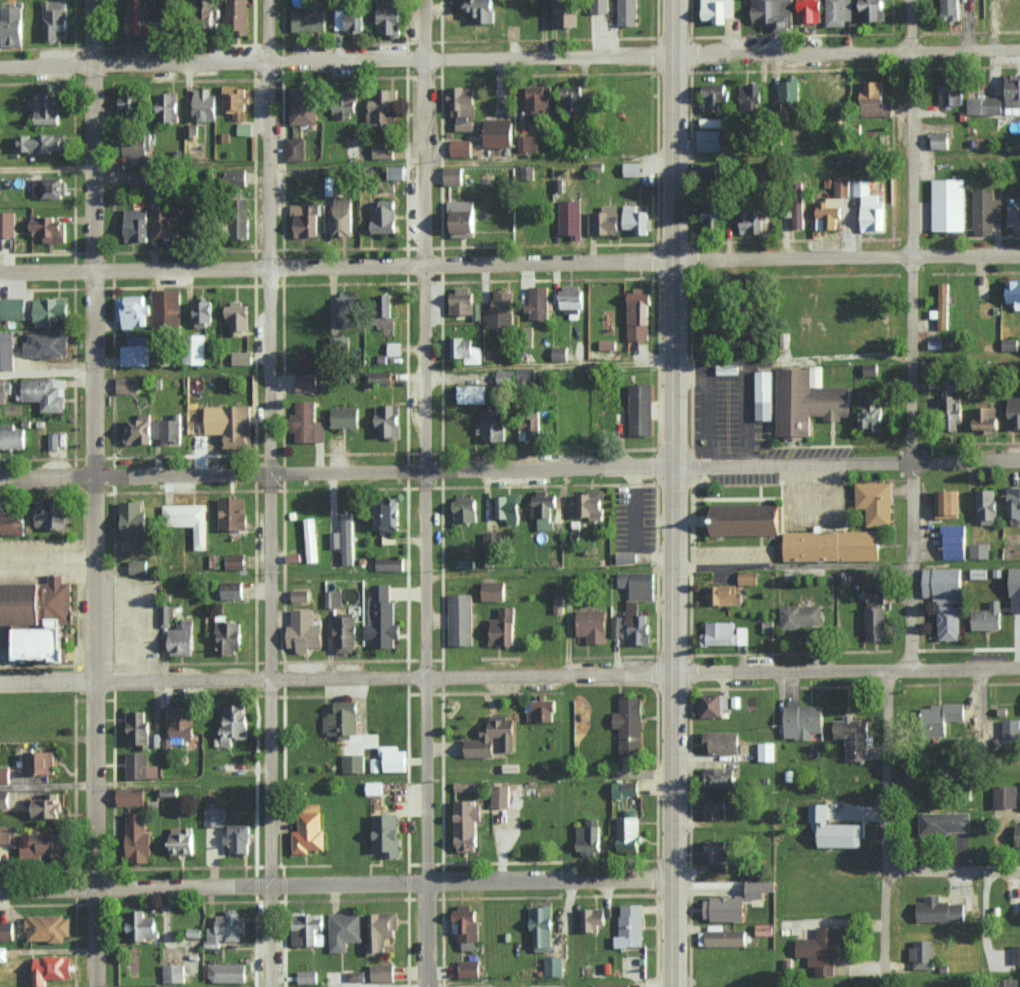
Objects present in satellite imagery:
building: (873, 9)
building: (481, 10)
building: (718, 10)
building: (808, 10)
building: (952, 10)
building: (567, 12)
building: (628, 12)
building: (772, 12)
building: (838, 12)
building: (237, 16)
building: (136, 17)
building: (389, 17)
building: (55, 19)
building: (349, 19)
building: (309, 21)
building: (127, 22)
building: (11, 26)
road: (671, 28)
road: (510, 57)
building: (789, 90)
building: (1012, 93)
building: (951, 94)
building: (714, 95)
building: (750, 95)
building: (572, 96)
building: (538, 98)
building: (873, 99)
building: (234, 100)
building: (131, 101)
building: (204, 104)
building: (303, 104)
building: (345, 104)
building: (984, 105)
building: (463, 106)
building: (45, 107)
building: (168, 107)
building: (383, 107)
building: (244, 129)
building: (499, 132)
building: (709, 140)
building: (939, 140)
building: (40, 142)
building: (527, 142)
building: (461, 147)
building: (295, 149)
building: (137, 150)
building: (383, 150)
road: (548, 160)
building: (632, 168)
building: (396, 172)
building: (453, 175)
building: (235, 176)
building: (137, 177)
building: (47, 187)
building: (841, 187)
building: (948, 204)
building: (869, 207)
building: (985, 211)
building: (829, 213)
building: (341, 215)
building: (384, 216)
building: (713, 216)
building: (1013, 216)
building: (463, 217)
building: (570, 218)
building: (634, 218)
building: (798, 218)
building: (305, 219)
building: (604, 220)
building: (166, 221)
building: (752, 221)
building: (7, 223)
building: (241, 223)
building: (136, 224)
building: (48, 228)
road: (510, 261)
building: (1013, 293)
building: (571, 296)
building: (461, 300)
building: (385, 301)
building: (538, 302)
building: (942, 306)
building: (167, 307)
building: (13, 308)
building: (347, 308)
building: (501, 309)
building: (50, 310)
building: (132, 310)
building: (203, 312)
building: (638, 315)
building: (238, 316)
building: (1009, 343)
building: (47, 344)
building: (394, 348)
building: (196, 349)
building: (7, 350)
building: (466, 350)
building: (136, 351)
building: (559, 353)
building: (241, 357)
building: (305, 357)
road: (667, 365)
building: (729, 370)
building: (526, 374)
building: (506, 376)
building: (380, 377)
road: (725, 377)
building: (307, 381)
building: (127, 384)
building: (43, 393)
building: (472, 394)
building: (766, 396)
building: (807, 403)
building: (951, 408)
building: (641, 409)
building: (1013, 412)
building: (873, 413)
road: (745, 415)
road: (706, 416)
building: (345, 417)
building: (985, 417)
building: (388, 420)
building: (307, 422)
building: (230, 424)
building: (493, 424)
parking lot: (743, 426)
building: (168, 428)
building: (139, 429)
building: (529, 429)
building: (12, 436)
building: (53, 440)
road: (510, 472)
road: (95, 493)
road: (271, 493)
road: (425, 493)
parking lot: (801, 495)
road: (909, 497)
building: (878, 502)
building: (947, 503)
building: (591, 504)
building: (986, 505)
building: (1013, 505)
building: (507, 507)
building: (544, 508)
building: (465, 509)
building: (233, 513)
building: (51, 514)
building: (388, 515)
road: (635, 516)
building: (132, 519)
parking lot: (635, 519)
building: (188, 520)
road: (676, 521)
building: (746, 521)
building: (12, 523)
building: (347, 538)
building: (310, 539)
building: (954, 542)
building: (492, 544)
building: (832, 546)
building: (979, 550)
parking lot: (734, 555)
parking lot: (38, 557)
building: (626, 557)
building: (235, 561)
building: (389, 563)
road: (730, 565)
road: (847, 565)
building: (138, 566)
building: (748, 578)
building: (1015, 589)
building: (232, 590)
building: (493, 590)
building: (300, 595)
building: (724, 595)
building: (876, 597)
building: (333, 598)
building: (945, 599)
building: (558, 603)
building: (631, 607)
building: (166, 615)
building: (801, 615)
building: (987, 617)
building: (39, 618)
building: (383, 618)
building: (460, 619)
parking lot: (132, 623)
building: (876, 623)
building: (593, 625)
building: (616, 626)
building: (503, 627)
building: (304, 631)
building: (345, 633)
building: (724, 634)
building: (228, 636)
building: (182, 638)
road: (509, 675)
building: (712, 705)
building: (541, 709)
building: (942, 717)
building: (343, 719)
building: (803, 720)
building: (182, 723)
building: (234, 724)
building: (629, 726)
building: (140, 730)
building: (1011, 731)
building: (853, 736)
building: (493, 738)
building: (722, 741)
building: (766, 751)
building: (393, 758)
building: (38, 762)
building: (353, 762)
building: (140, 766)
building: (4, 774)
building: (719, 777)
road: (48, 785)
building: (464, 786)
building: (374, 788)
building: (625, 788)
building: (131, 796)
building: (500, 796)
building: (1005, 796)
building: (4, 799)
building: (47, 806)
building: (715, 808)
building: (215, 816)
building: (945, 822)
building: (467, 825)
building: (835, 829)
building: (309, 830)
building: (628, 831)
building: (5, 834)
building: (386, 834)
building: (1018, 835)
building: (238, 837)
building: (588, 837)
building: (138, 839)
building: (182, 840)
building: (44, 846)
building: (716, 854)
road: (952, 870)
road: (336, 885)
building: (760, 888)
building: (725, 908)
building: (940, 910)
building: (592, 919)
building: (142, 926)
building: (630, 926)
building: (48, 927)
building: (466, 927)
building: (541, 927)
building: (226, 929)
building: (308, 929)
building: (764, 929)
building: (7, 930)
building: (344, 930)
building: (380, 930)
building: (722, 937)
building: (820, 950)
building: (1016, 953)
building: (923, 954)
building: (553, 966)
building: (52, 968)
building: (469, 968)
building: (173, 972)
building: (227, 972)
building: (382, 972)
building: (356, 975)
building: (307, 977)
building: (1008, 983)
building: (611, 985)

